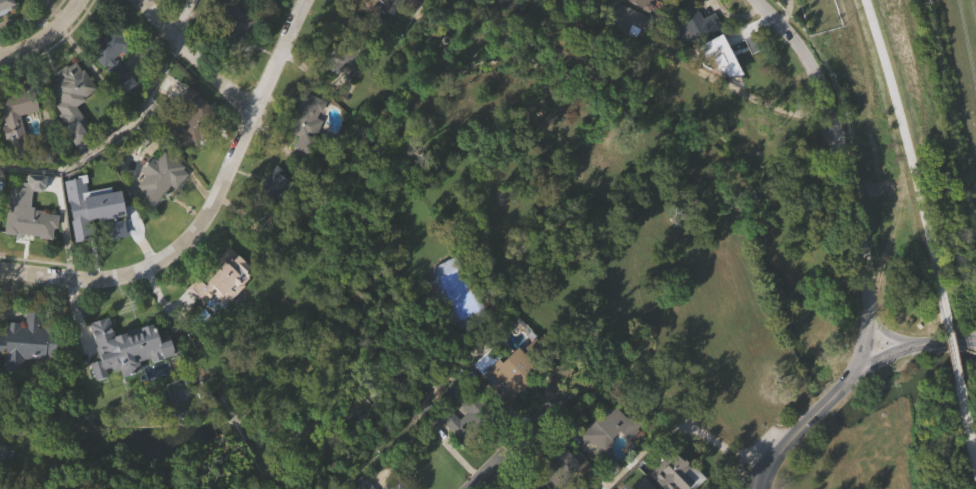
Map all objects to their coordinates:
building: (382, 1)
building: (256, 2)
building: (511, 2)
building: (641, 2)
building: (34, 3)
building: (400, 4)
building: (660, 4)
building: (684, 4)
building: (475, 5)
building: (8, 6)
building: (365, 6)
building: (264, 14)
building: (419, 16)
road: (180, 17)
building: (621, 17)
building: (693, 26)
building: (226, 29)
building: (7, 30)
road: (47, 39)
building: (624, 46)
building: (343, 49)
building: (111, 53)
building: (240, 54)
building: (719, 56)
road: (194, 57)
building: (695, 57)
building: (114, 85)
building: (725, 87)
building: (69, 91)
park: (903, 104)
building: (12, 120)
building: (189, 120)
building: (306, 124)
building: (74, 129)
road: (114, 139)
building: (19, 146)
building: (191, 148)
road: (842, 148)
building: (308, 152)
road: (908, 155)
building: (158, 177)
building: (271, 196)
building: (89, 200)
building: (159, 210)
road: (207, 212)
building: (27, 216)
building: (77, 218)
building: (29, 249)
park: (698, 250)
building: (222, 278)
building: (222, 307)
building: (120, 327)
road: (891, 339)
building: (28, 343)
road: (863, 347)
road: (909, 347)
road: (954, 355)
building: (510, 368)
building: (27, 372)
building: (128, 377)
road: (837, 391)
building: (506, 401)
building: (475, 413)
road: (674, 426)
building: (605, 430)
road: (519, 431)
road: (969, 438)
road: (785, 444)
building: (464, 446)
building: (610, 459)
building: (564, 464)
building: (673, 472)
road: (748, 481)
building: (359, 484)
building: (567, 484)
building: (642, 485)
building: (392, 486)
building: (531, 488)

